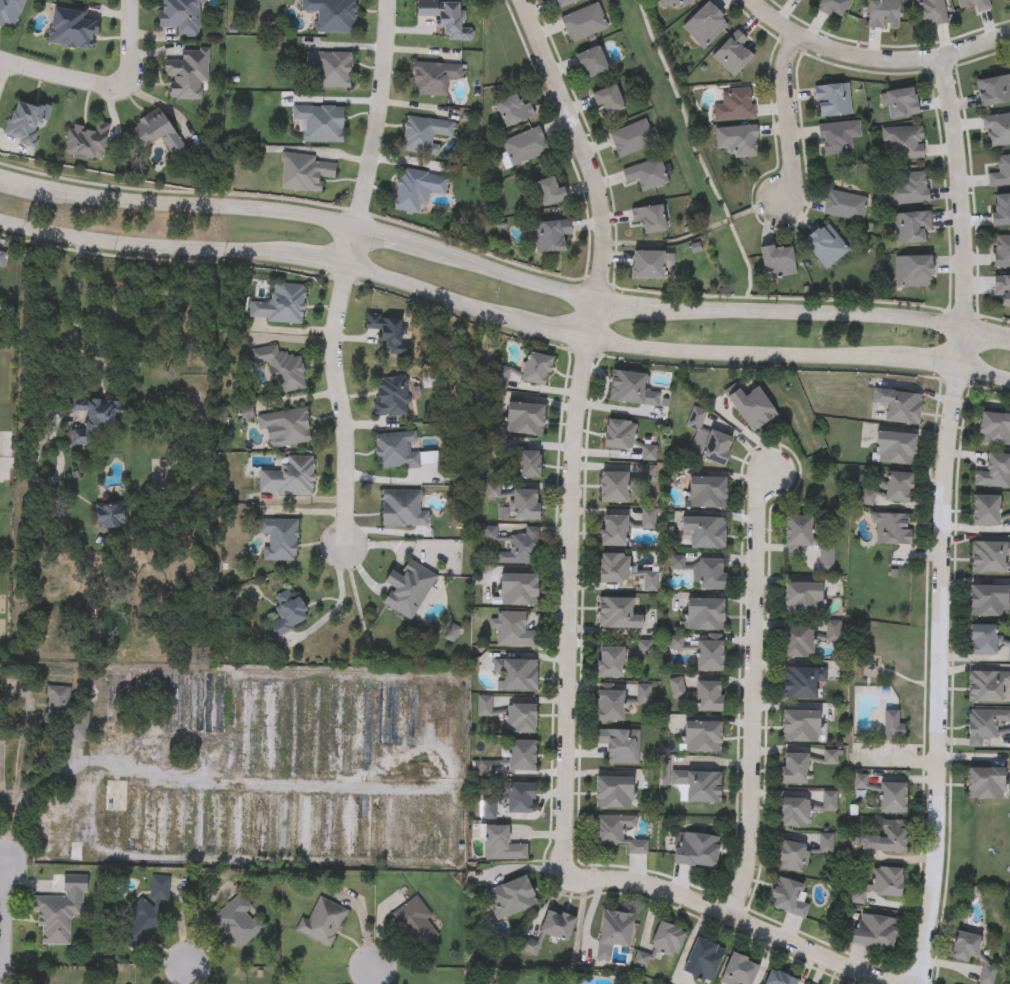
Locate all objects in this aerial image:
building: (801, 0)
building: (1006, 0)
building: (565, 3)
building: (675, 3)
building: (974, 4)
building: (832, 7)
building: (9, 12)
building: (929, 12)
building: (884, 13)
building: (332, 15)
building: (181, 16)
building: (443, 16)
building: (583, 22)
building: (705, 25)
building: (73, 28)
road: (128, 44)
building: (732, 54)
road: (873, 59)
building: (592, 62)
road: (3, 69)
building: (331, 70)
building: (187, 73)
road: (63, 77)
building: (433, 77)
building: (994, 90)
building: (608, 100)
building: (832, 100)
building: (900, 103)
building: (735, 105)
building: (513, 110)
road: (385, 115)
road: (786, 117)
building: (320, 122)
building: (25, 123)
building: (996, 130)
building: (158, 132)
building: (423, 134)
building: (838, 137)
building: (631, 138)
building: (737, 140)
building: (86, 141)
building: (902, 143)
building: (524, 146)
road: (580, 148)
building: (305, 172)
building: (1001, 173)
building: (646, 174)
building: (907, 188)
building: (416, 189)
building: (550, 192)
building: (844, 206)
road: (963, 210)
building: (1001, 210)
building: (649, 219)
building: (912, 227)
building: (550, 237)
road: (349, 246)
building: (825, 246)
road: (149, 247)
building: (1002, 252)
building: (1, 260)
building: (778, 262)
road: (323, 263)
building: (648, 266)
building: (913, 271)
road: (502, 273)
building: (1002, 289)
road: (436, 297)
building: (280, 305)
road: (73, 306)
road: (588, 321)
building: (387, 331)
road: (556, 333)
road: (745, 353)
road: (933, 363)
building: (280, 368)
building: (536, 369)
road: (985, 373)
building: (630, 389)
building: (390, 397)
road: (339, 405)
building: (899, 406)
building: (752, 408)
building: (99, 418)
building: (524, 419)
building: (286, 427)
building: (995, 430)
building: (619, 435)
building: (707, 441)
building: (896, 449)
building: (396, 451)
building: (529, 464)
building: (995, 473)
building: (288, 478)
building: (3, 479)
building: (614, 488)
building: (891, 491)
building: (706, 493)
building: (526, 505)
building: (402, 509)
building: (986, 512)
building: (110, 516)
building: (892, 529)
building: (614, 531)
building: (705, 532)
building: (279, 539)
building: (806, 542)
building: (514, 545)
building: (990, 558)
building: (614, 569)
building: (702, 571)
building: (648, 584)
building: (408, 589)
building: (518, 590)
building: (803, 598)
building: (990, 601)
road: (566, 607)
building: (286, 614)
building: (618, 614)
building: (705, 615)
building: (512, 631)
building: (810, 639)
building: (984, 641)
building: (710, 656)
building: (610, 663)
building: (516, 675)
road: (939, 676)
building: (801, 683)
building: (989, 686)
building: (182, 695)
road: (751, 696)
building: (708, 697)
building: (610, 706)
building: (376, 718)
building: (521, 718)
building: (987, 725)
building: (801, 726)
building: (893, 728)
building: (702, 736)
building: (619, 745)
building: (521, 756)
building: (795, 769)
road: (221, 777)
building: (985, 784)
building: (698, 785)
building: (614, 793)
building: (893, 797)
building: (517, 798)
building: (488, 809)
building: (794, 809)
road: (4, 813)
building: (147, 819)
building: (214, 823)
building: (618, 833)
building: (887, 838)
building: (501, 844)
building: (696, 850)
building: (793, 857)
building: (880, 884)
building: (511, 897)
building: (790, 897)
building: (144, 915)
road: (731, 916)
building: (55, 919)
building: (236, 922)
building: (321, 922)
road: (2, 923)
building: (415, 923)
building: (558, 924)
building: (873, 931)
building: (614, 932)
building: (667, 940)
building: (966, 946)
building: (703, 960)
building: (740, 970)
road: (191, 973)
road: (370, 976)
building: (779, 978)

